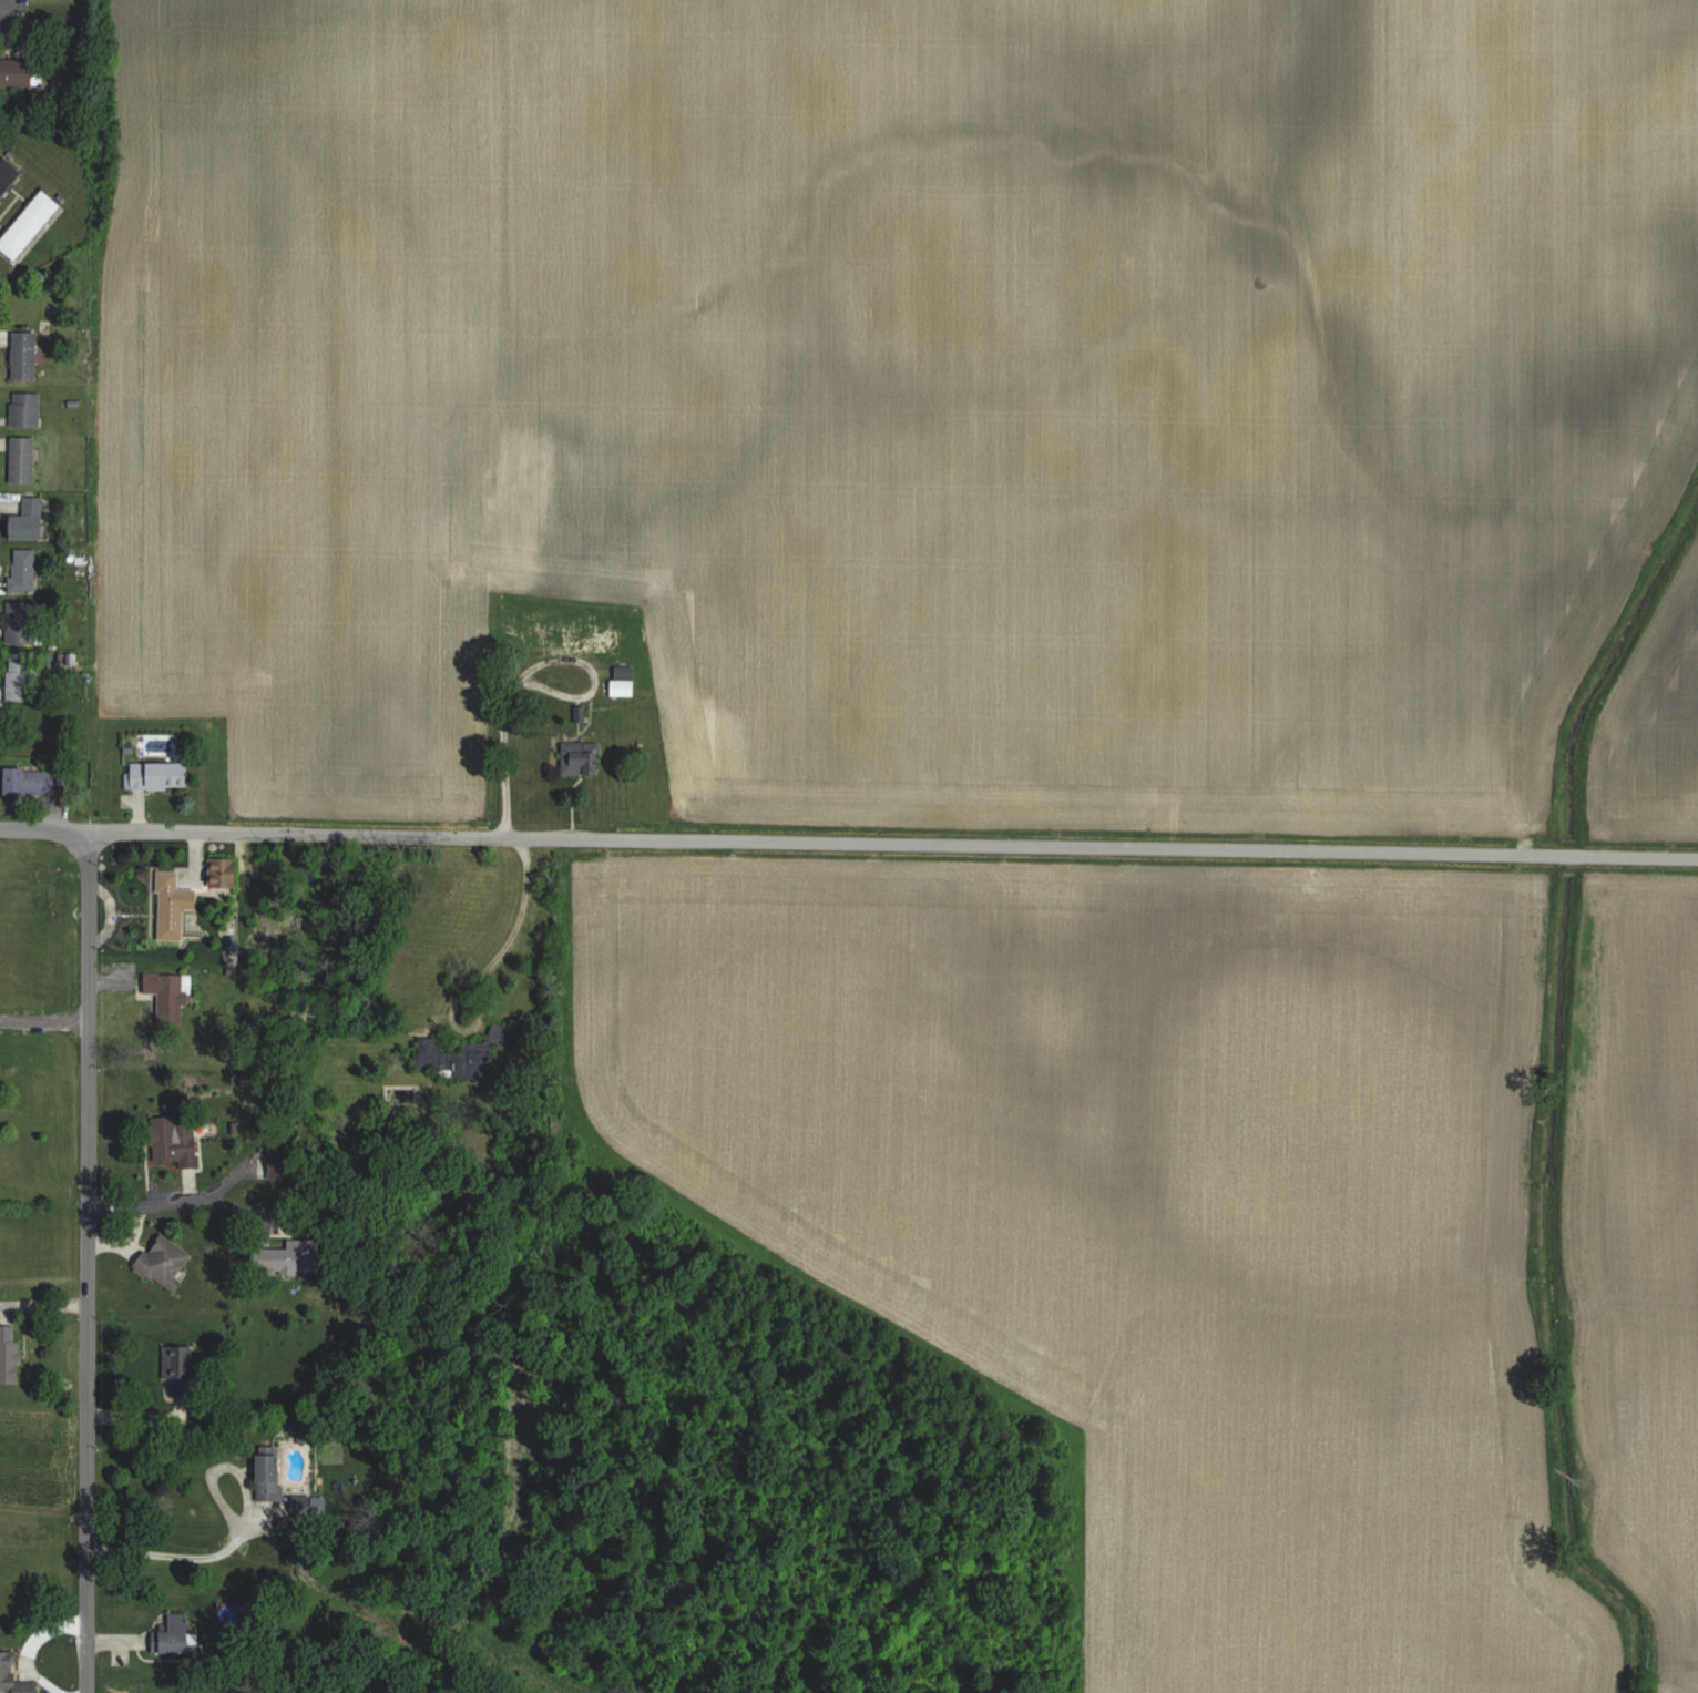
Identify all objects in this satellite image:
road: (7, 1)
building: (22, 71)
building: (8, 174)
building: (30, 224)
building: (25, 355)
building: (27, 408)
building: (23, 458)
building: (32, 519)
building: (24, 570)
building: (22, 623)
road: (545, 661)
building: (20, 676)
building: (624, 687)
road: (500, 757)
building: (581, 757)
building: (163, 775)
building: (34, 779)
road: (299, 832)
road: (1147, 851)
building: (174, 900)
road: (512, 931)
building: (168, 993)
road: (44, 1018)
road: (446, 1028)
building: (436, 1055)
building: (175, 1139)
road: (176, 1202)
road: (85, 1259)
building: (11, 1354)
road: (140, 1417)
building: (270, 1472)
road: (180, 1558)
building: (9, 1672)

